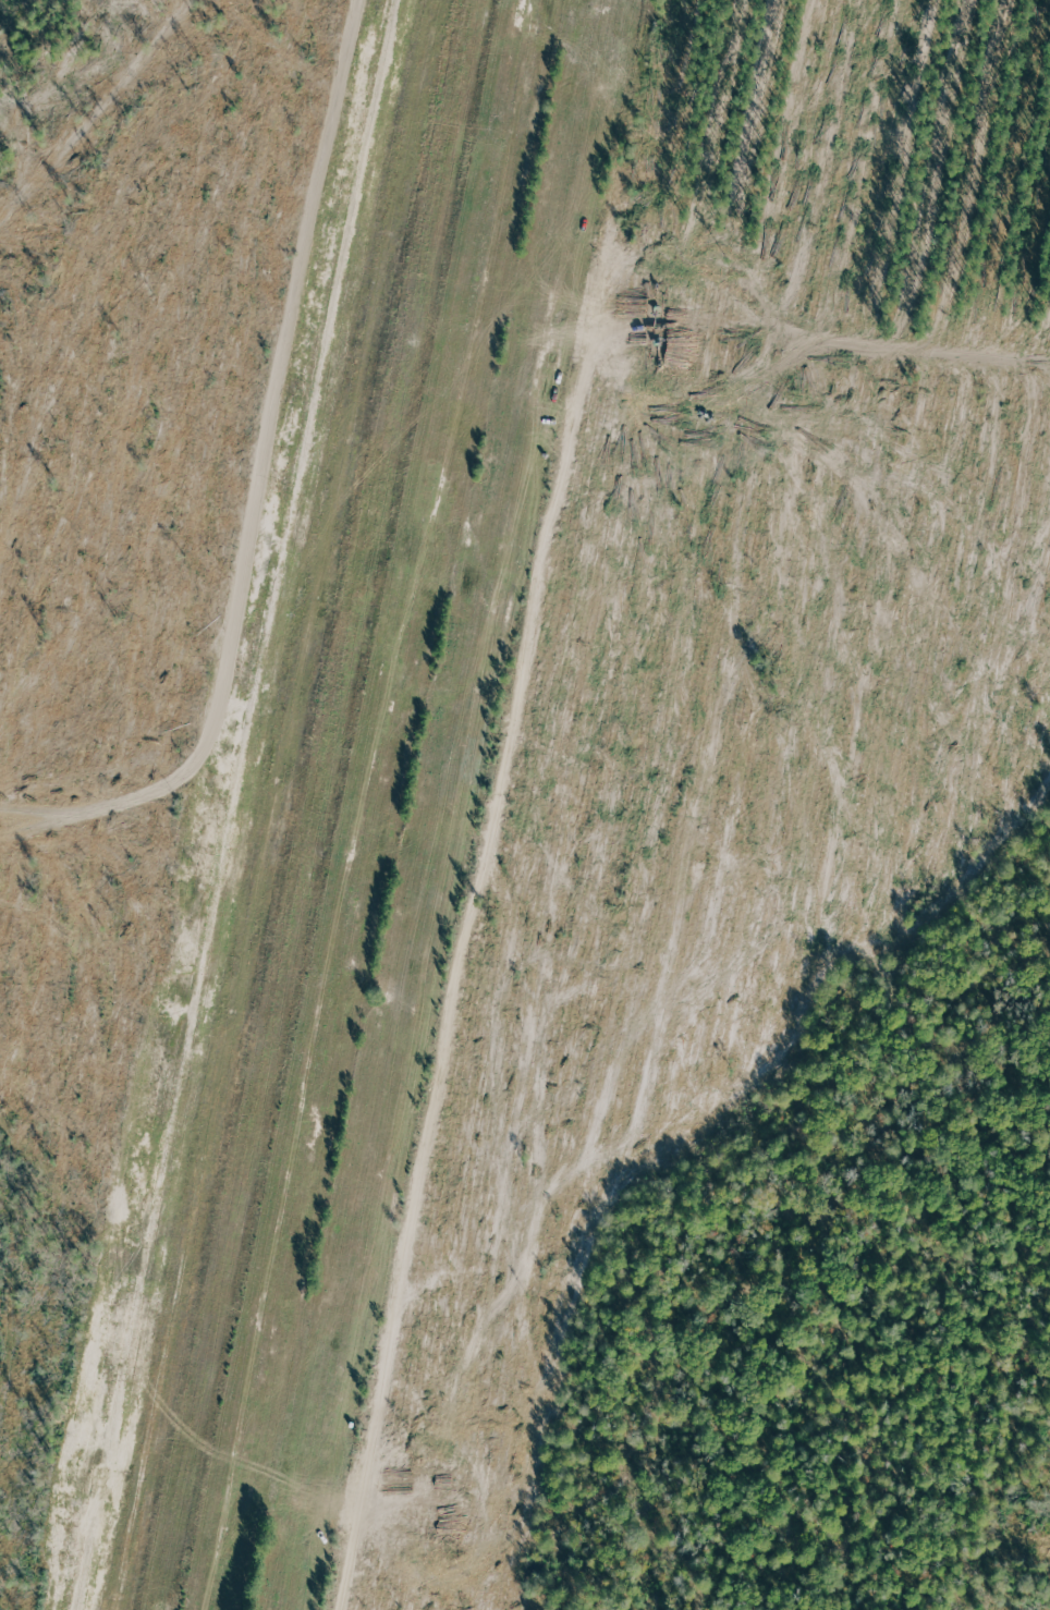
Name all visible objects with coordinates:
road: (417, 1476)

